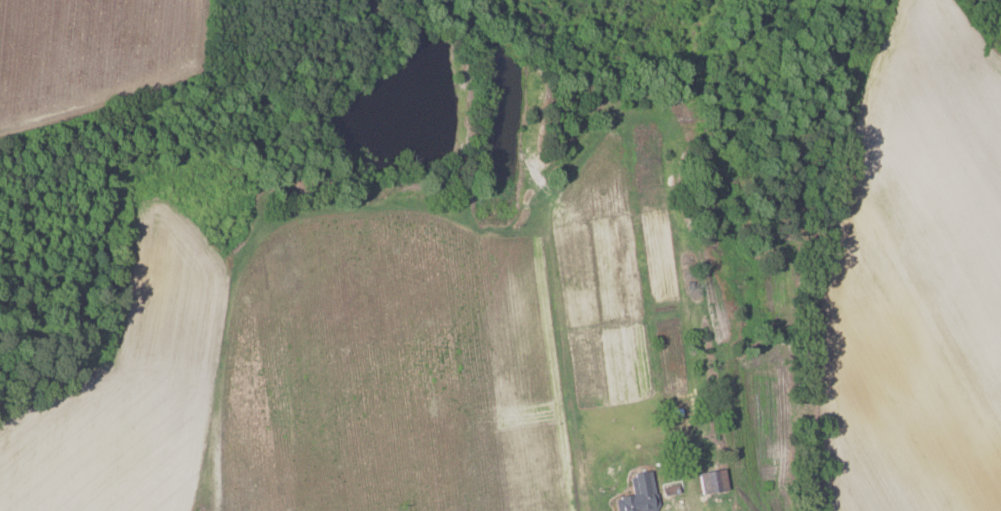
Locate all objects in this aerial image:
building: (710, 480)

